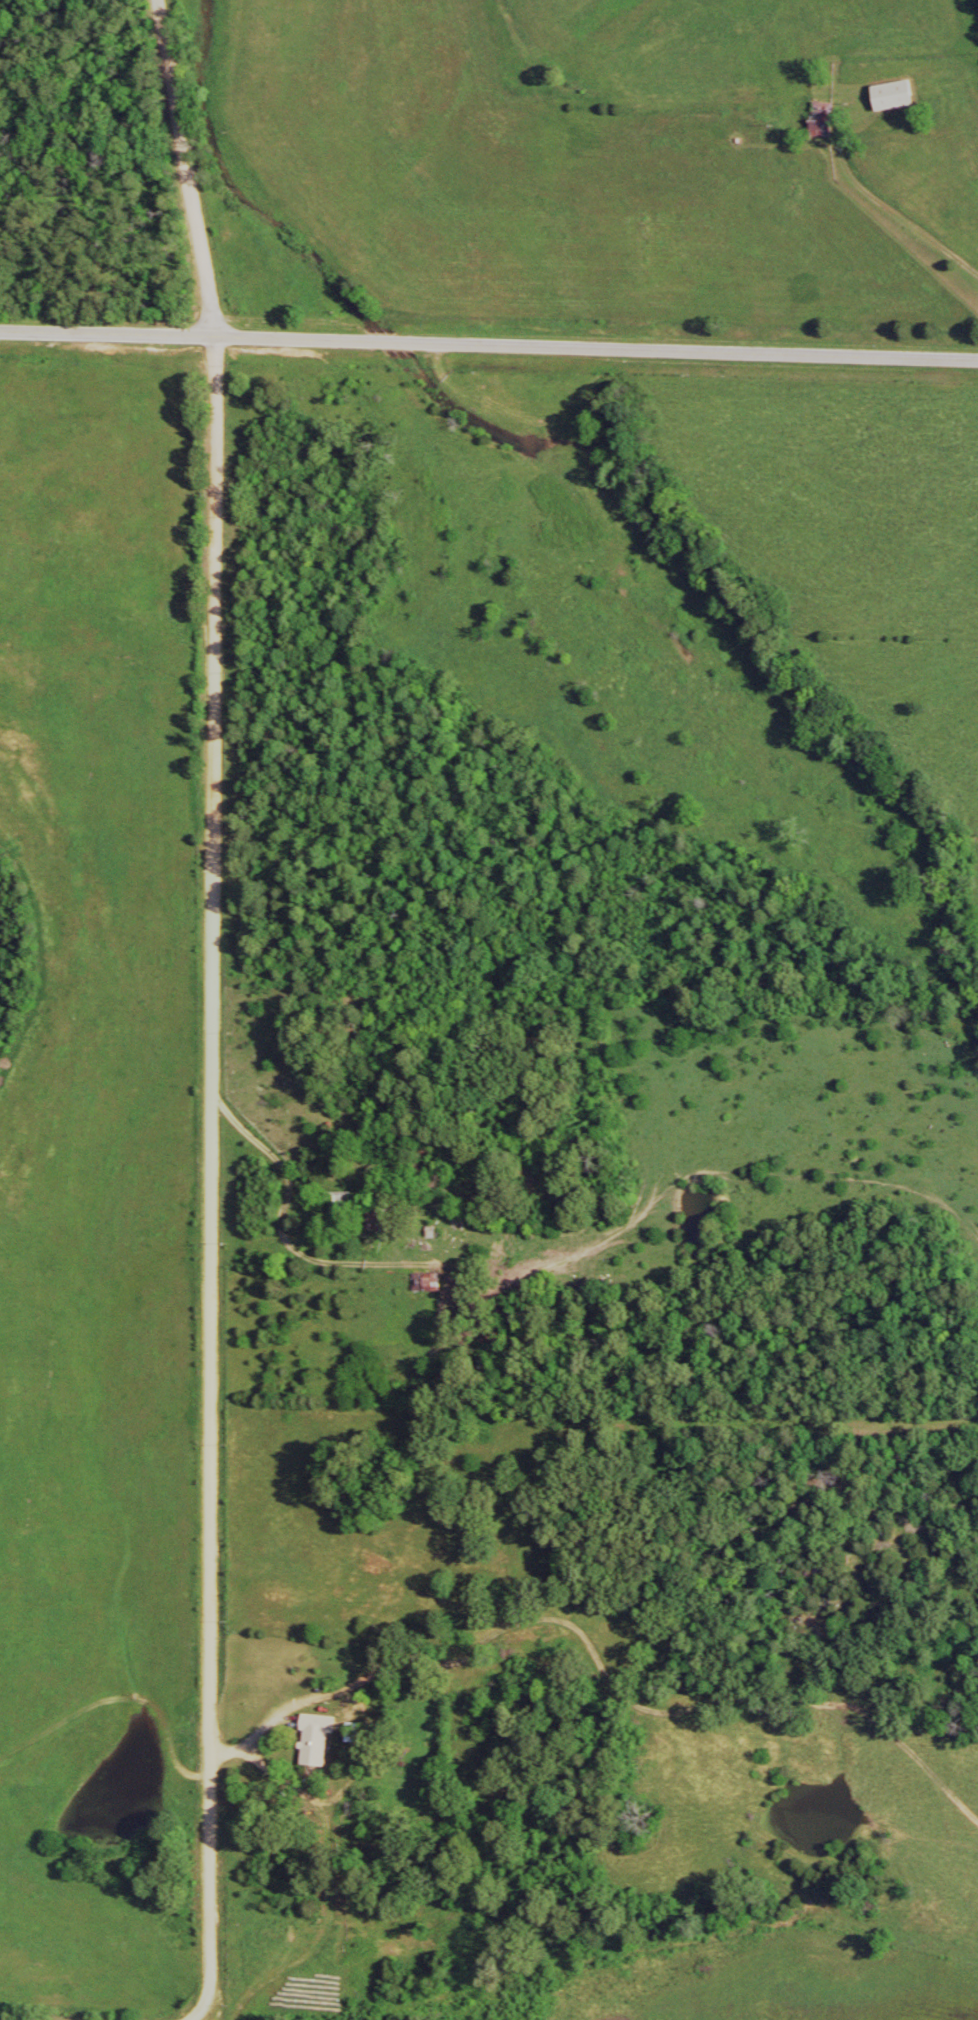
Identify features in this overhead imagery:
building: (892, 101)
building: (821, 134)
park: (92, 169)
road: (489, 344)
road: (211, 1012)
building: (340, 1206)
building: (425, 1288)
building: (315, 1743)

